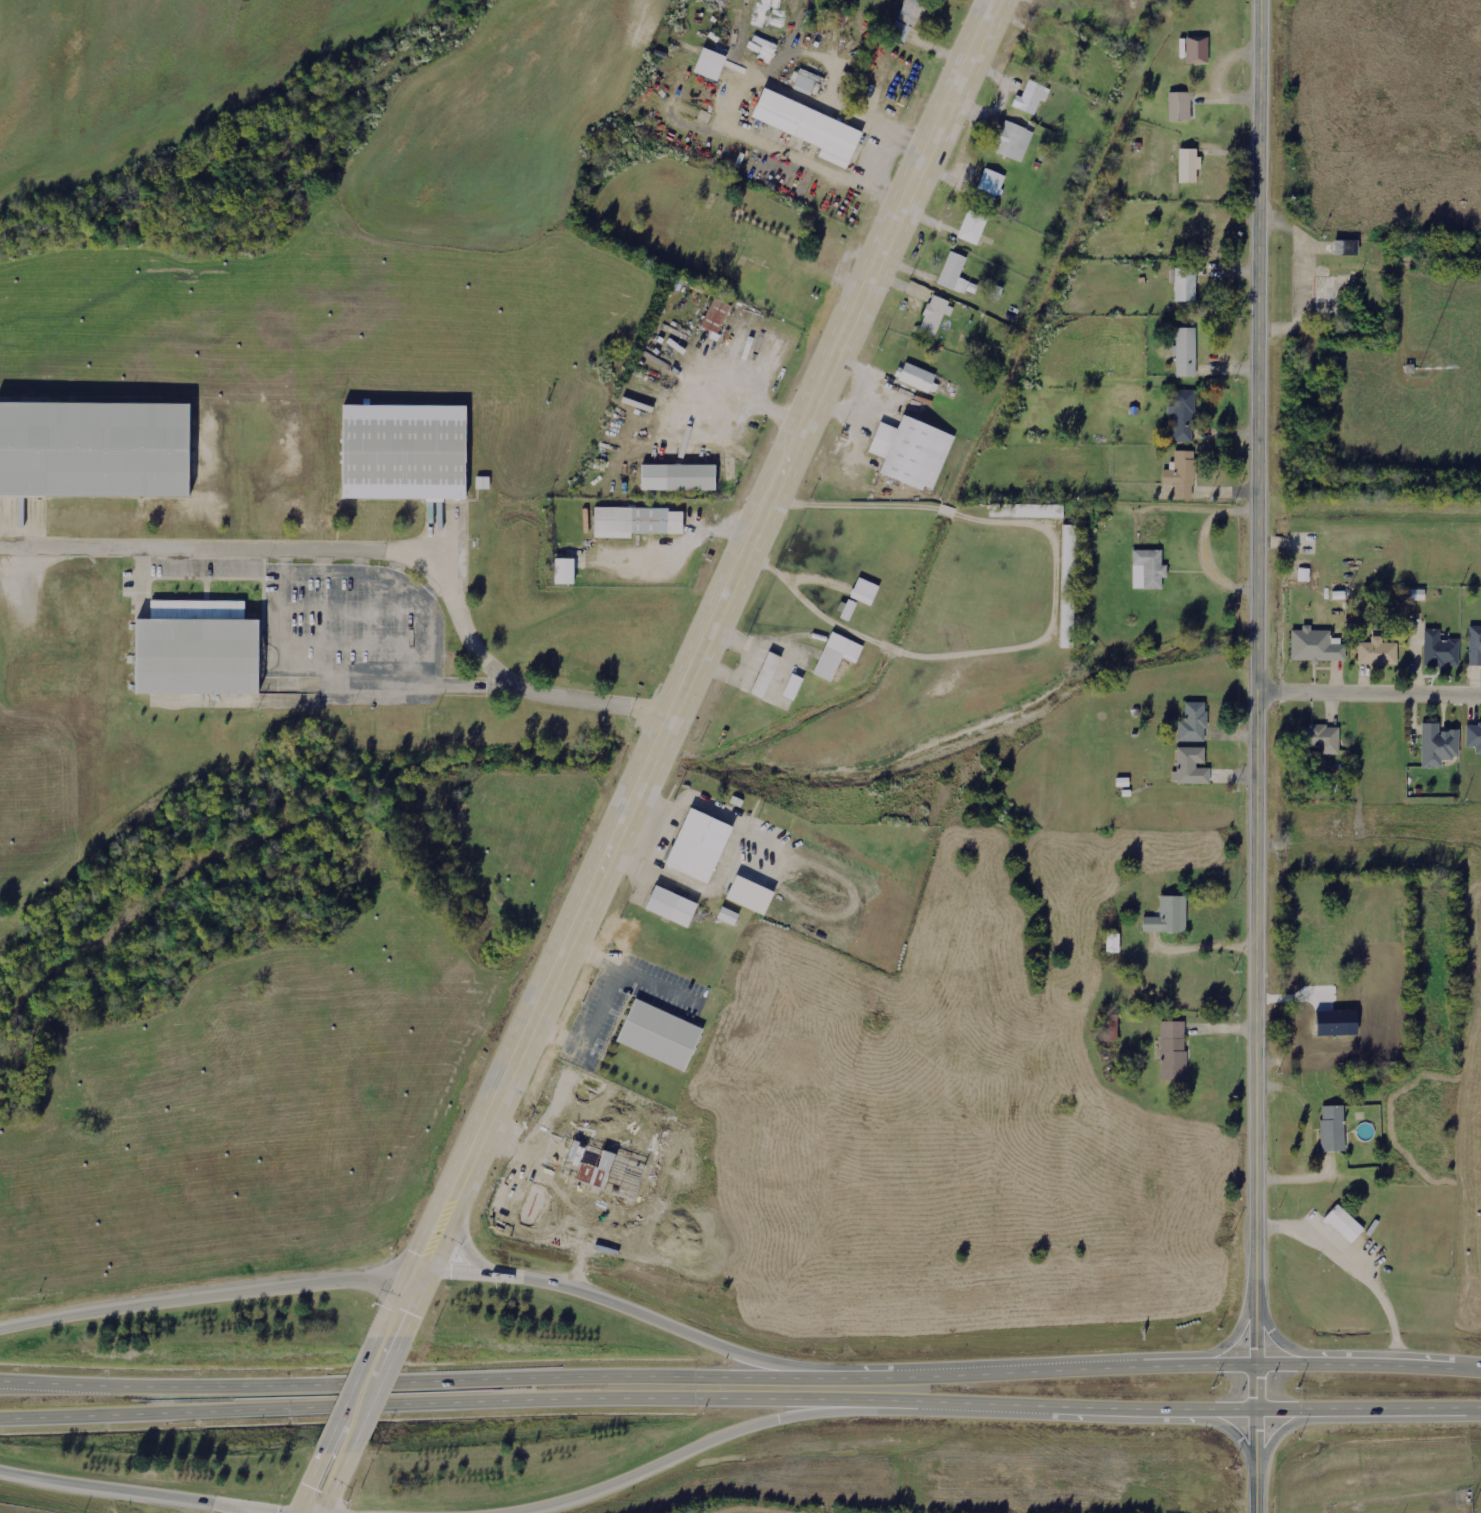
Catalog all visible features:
building: (907, 19)
building: (1197, 49)
building: (709, 63)
building: (808, 82)
building: (1032, 97)
building: (1177, 106)
building: (809, 127)
building: (1014, 141)
building: (1188, 165)
building: (991, 185)
building: (970, 228)
building: (1346, 247)
building: (951, 274)
building: (1184, 284)
building: (715, 315)
building: (931, 315)
building: (1184, 352)
building: (918, 378)
building: (1184, 416)
building: (95, 448)
building: (912, 452)
building: (404, 454)
building: (1181, 474)
building: (678, 477)
building: (483, 482)
road: (1168, 509)
building: (1027, 511)
building: (636, 521)
building: (1069, 531)
road: (1202, 544)
road: (366, 551)
building: (1148, 569)
building: (563, 571)
building: (865, 591)
building: (1418, 594)
building: (847, 608)
road: (704, 635)
building: (1315, 646)
building: (1475, 646)
building: (195, 649)
building: (1440, 649)
building: (1378, 653)
building: (836, 655)
building: (765, 675)
road: (1371, 689)
building: (1194, 723)
building: (1473, 736)
building: (1321, 738)
building: (1438, 745)
road: (1261, 756)
building: (1191, 766)
building: (698, 846)
building: (750, 895)
building: (671, 907)
building: (728, 916)
building: (1168, 916)
building: (1113, 943)
building: (1110, 1028)
building: (656, 1034)
building: (1173, 1051)
building: (1333, 1128)
building: (586, 1165)
building: (1344, 1224)
road: (462, 1243)
traffic signals: (414, 1268)
road: (420, 1268)
road: (397, 1303)
road: (1285, 1344)
road: (1230, 1345)
traffic signals: (1254, 1364)
road: (1221, 1365)
road: (1367, 1365)
road: (1008, 1373)
road: (413, 1382)
road: (356, 1396)
road: (449, 1403)
road: (1049, 1405)
road: (1367, 1410)
road: (1227, 1411)
traffic signals: (1255, 1412)
road: (1236, 1430)
road: (1276, 1434)
road: (683, 1448)
road: (317, 1483)
road: (142, 1495)
road: (219, 1508)

